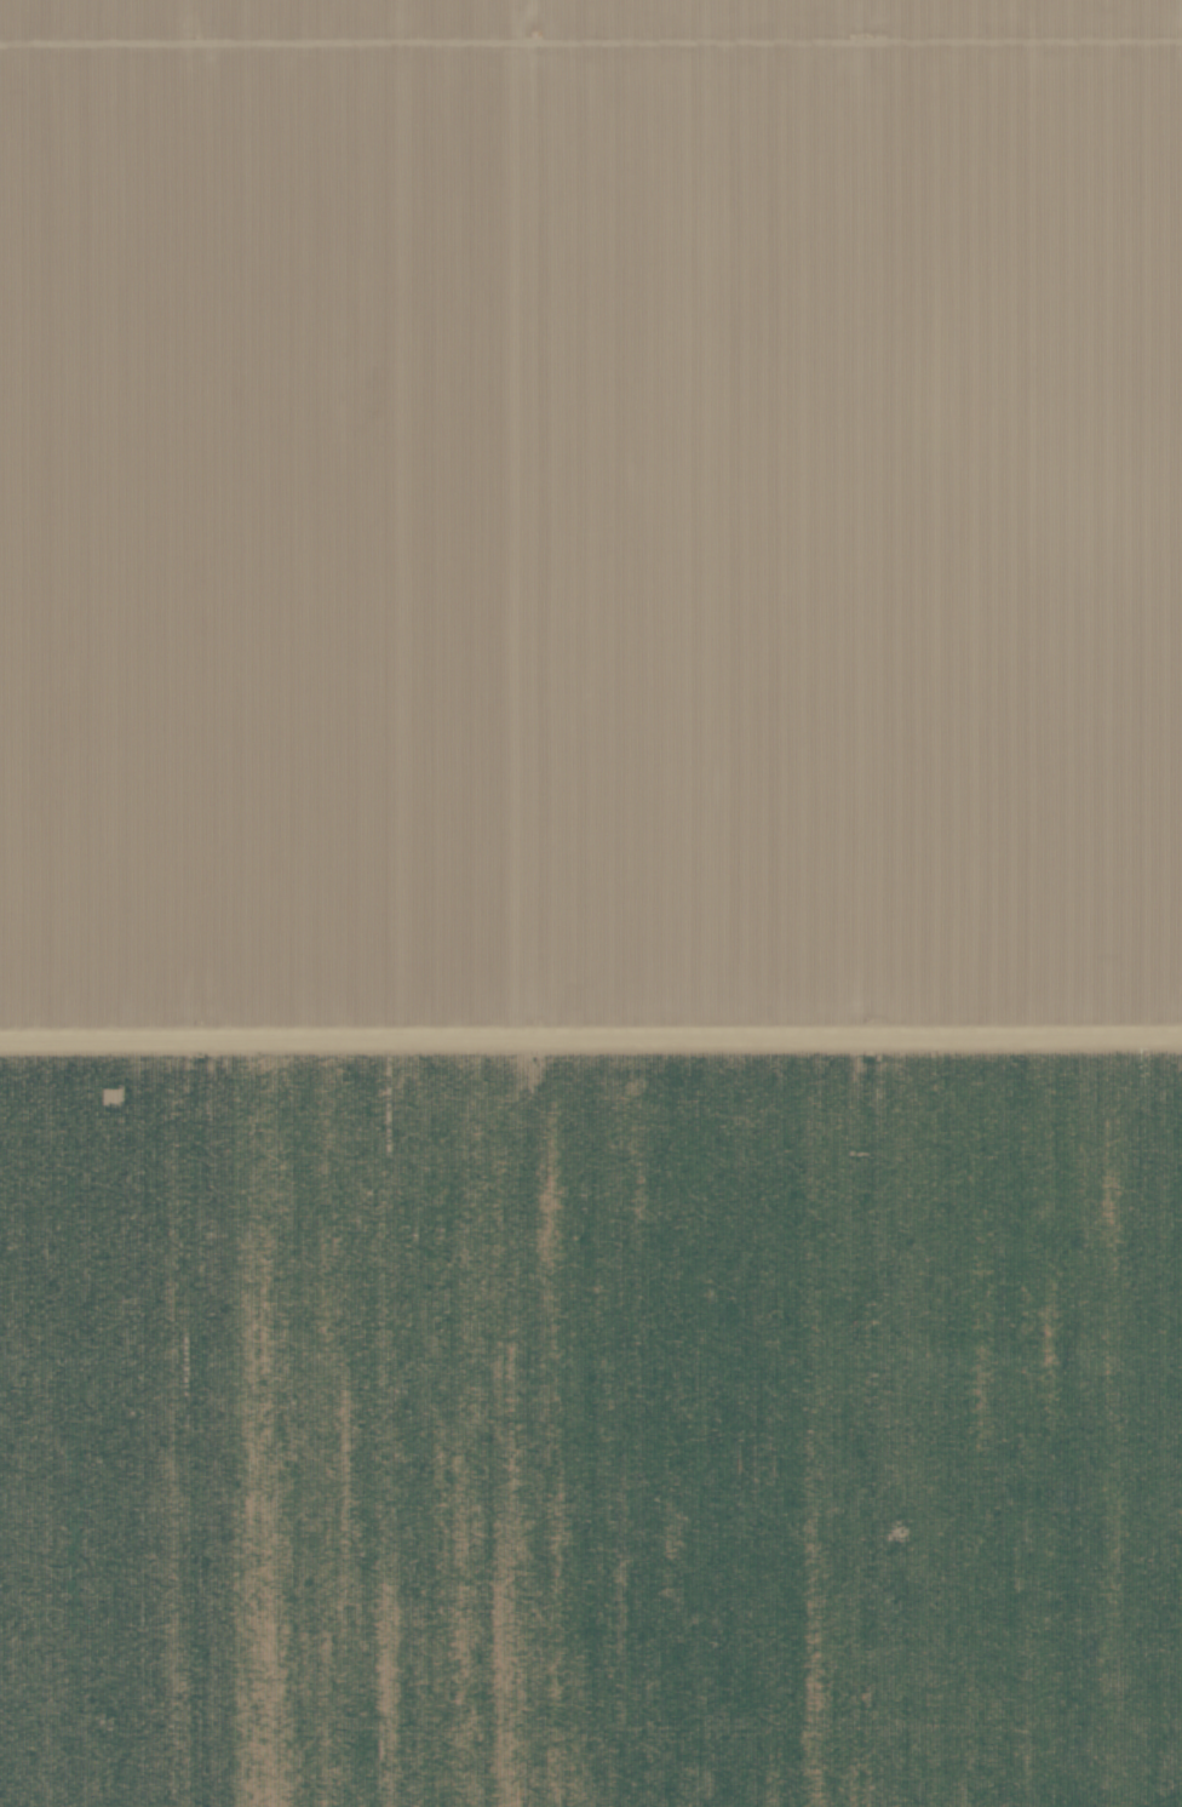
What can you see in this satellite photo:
crop: (591, 903)

